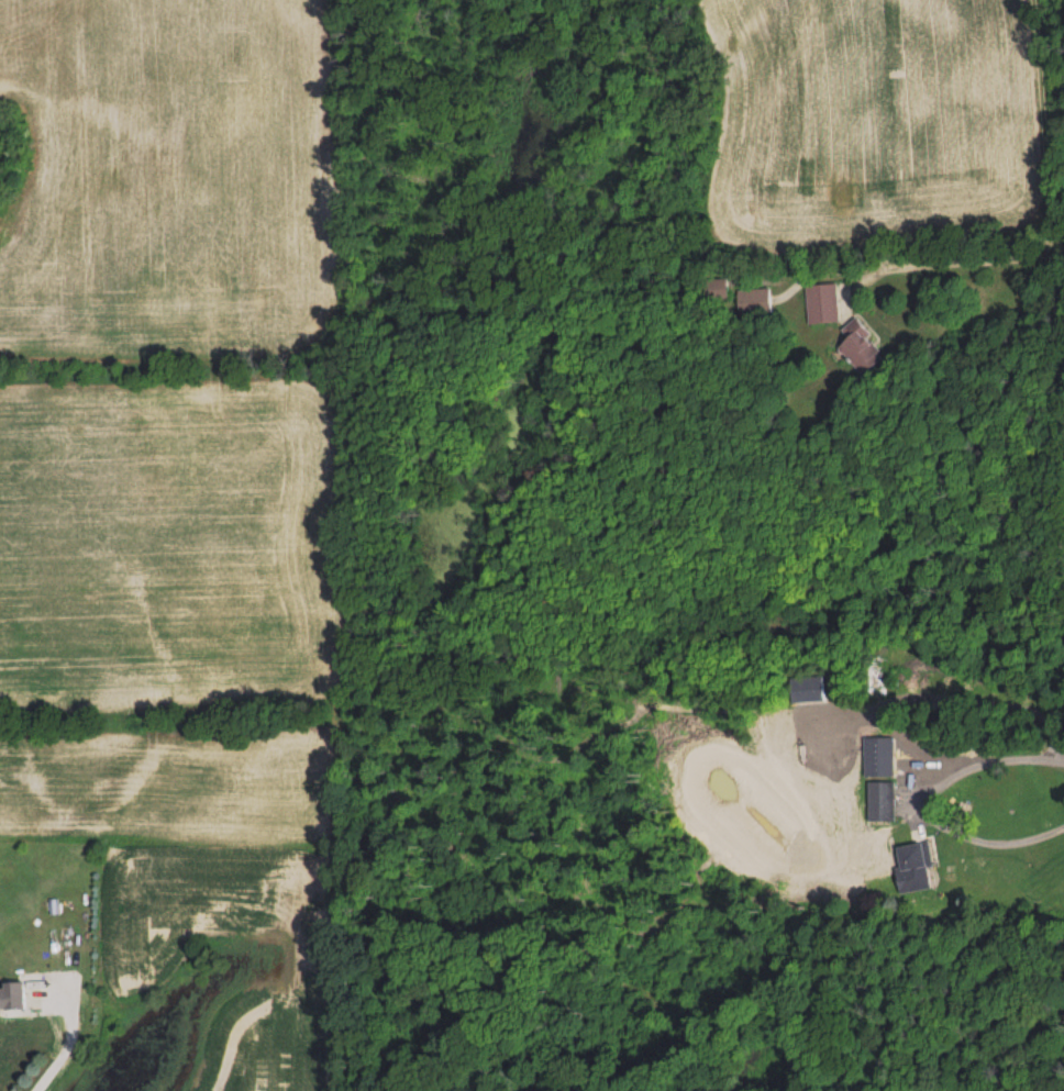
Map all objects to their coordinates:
road: (979, 263)
building: (719, 287)
building: (755, 300)
building: (822, 302)
building: (862, 346)
building: (808, 689)
building: (879, 756)
building: (880, 800)
road: (922, 804)
building: (915, 867)
building: (13, 995)
road: (68, 1040)

